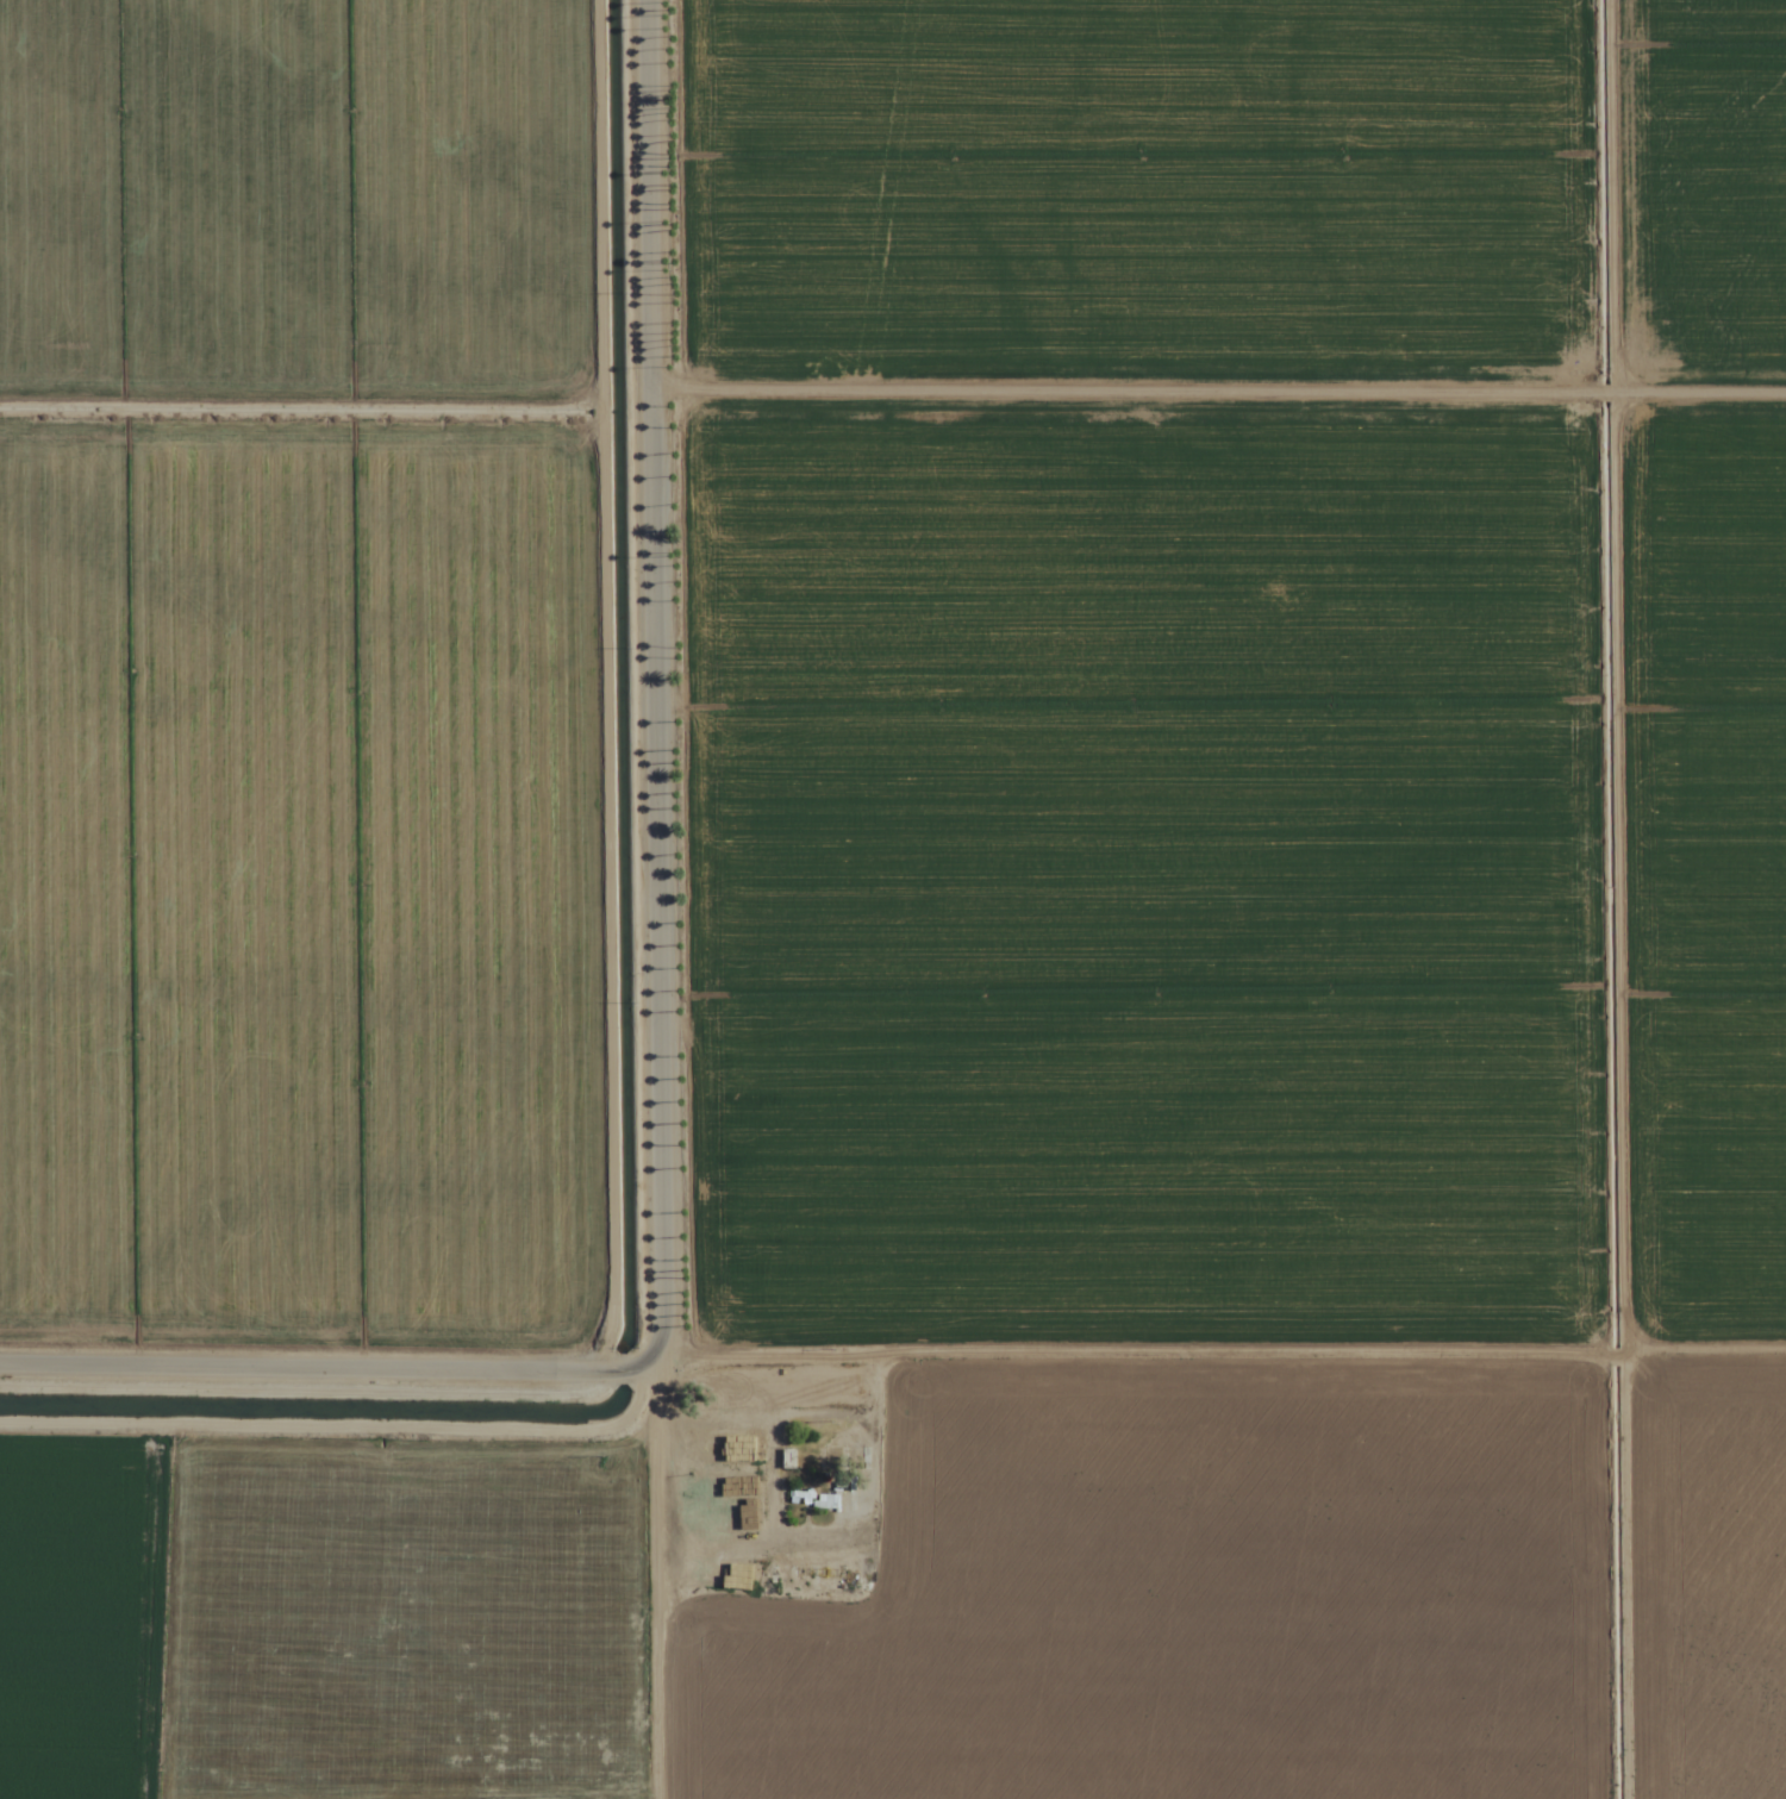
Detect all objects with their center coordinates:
road: (651, 680)
crop: (893, 899)
road: (324, 1366)

